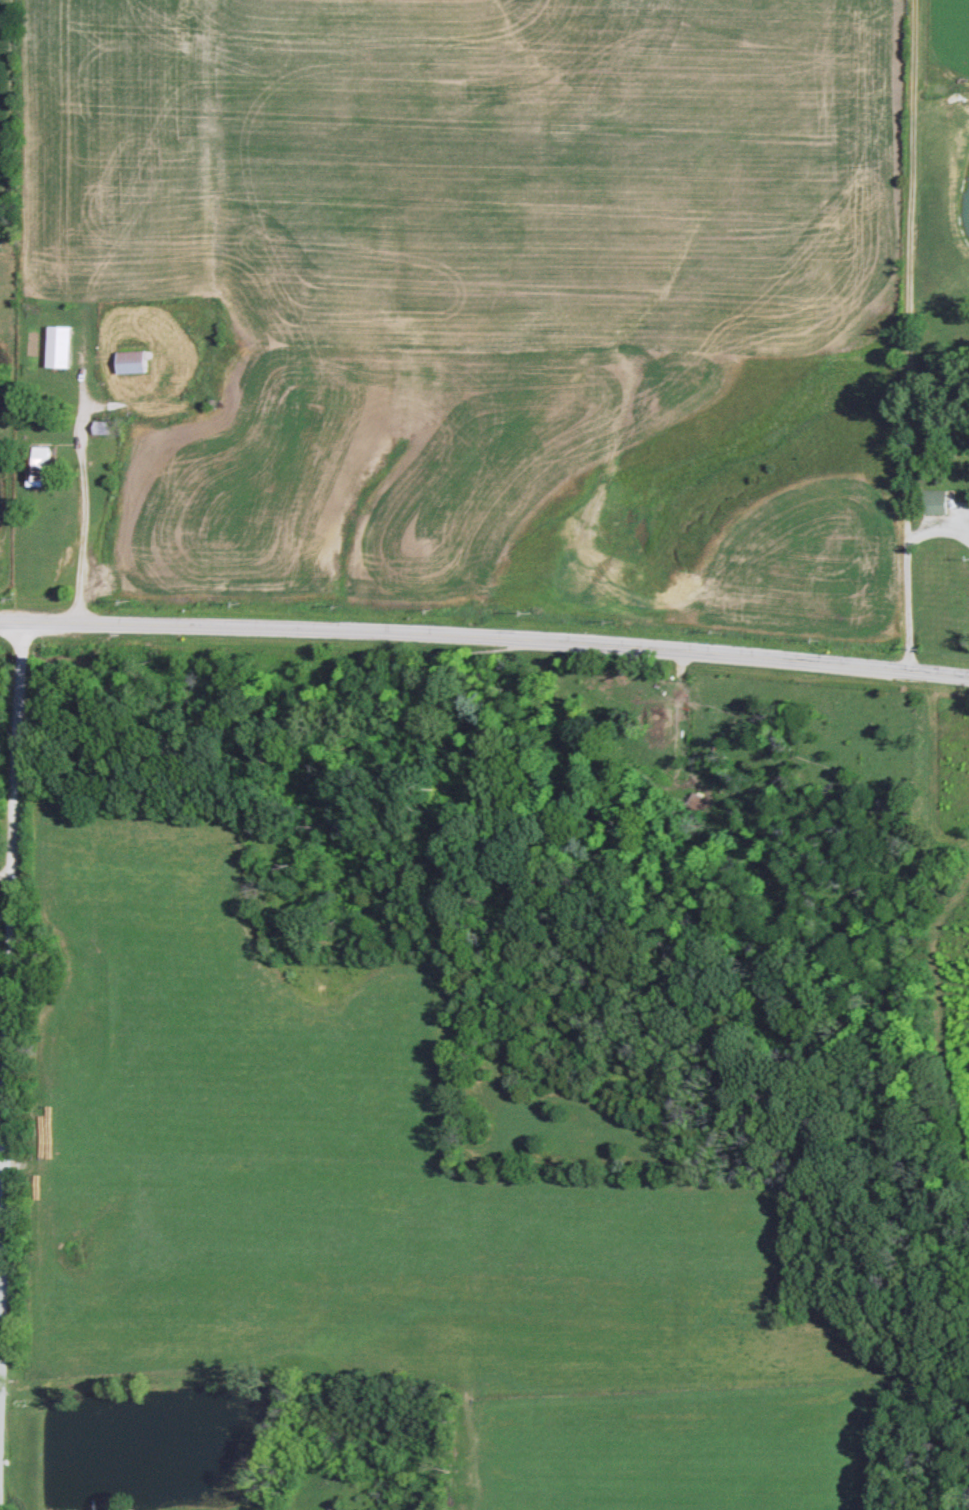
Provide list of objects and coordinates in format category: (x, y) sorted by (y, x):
road: (933, 335)
building: (55, 346)
building: (129, 361)
building: (35, 467)
building: (933, 501)
road: (485, 636)
road: (2, 1066)

